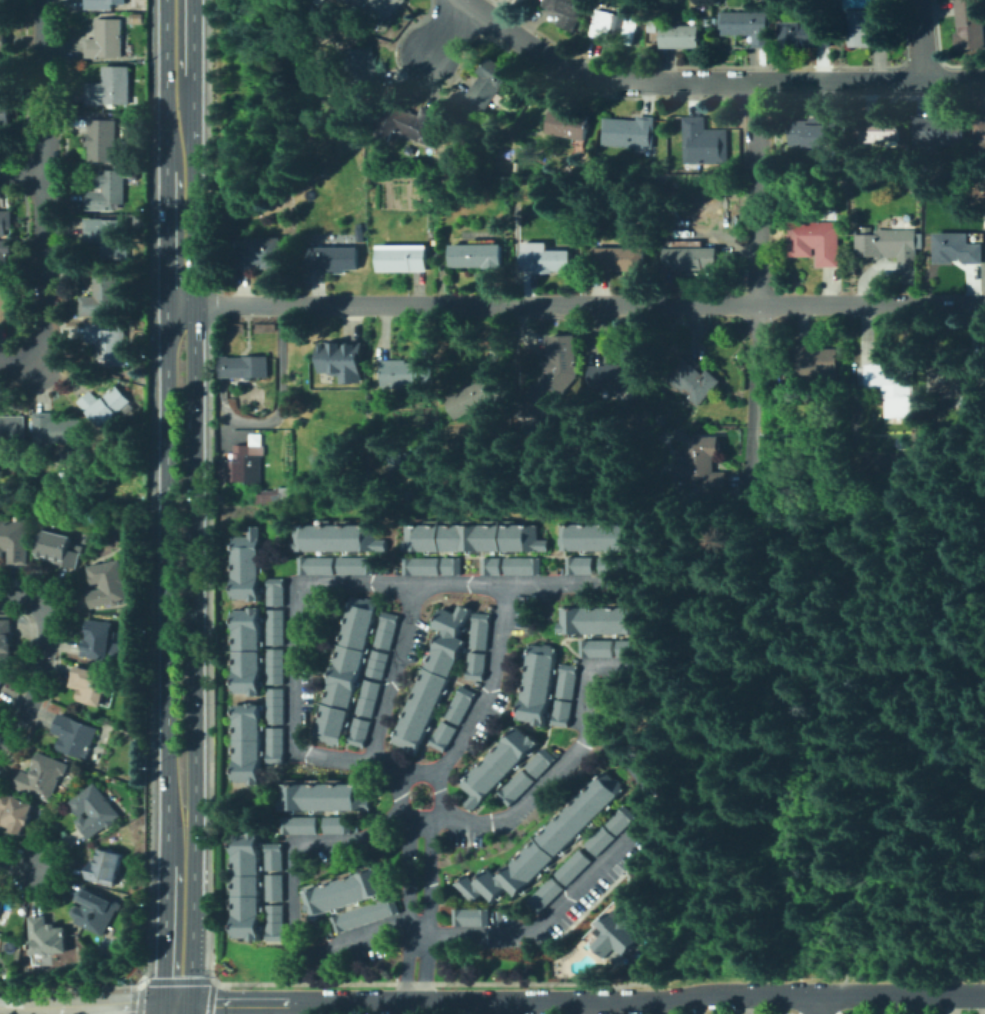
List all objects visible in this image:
building: (320, 0)
building: (8, 4)
building: (103, 4)
building: (380, 8)
building: (566, 11)
building: (322, 12)
building: (137, 18)
building: (970, 24)
building: (748, 26)
road: (444, 27)
building: (614, 27)
building: (870, 28)
building: (803, 35)
building: (680, 36)
building: (106, 39)
road: (919, 40)
building: (4, 41)
building: (3, 66)
building: (364, 69)
road: (713, 82)
building: (488, 84)
building: (111, 87)
building: (2, 113)
building: (408, 123)
building: (569, 125)
road: (757, 126)
building: (882, 130)
building: (629, 132)
building: (814, 132)
building: (939, 132)
building: (980, 135)
building: (103, 141)
building: (704, 143)
road: (180, 153)
building: (508, 154)
building: (377, 156)
building: (666, 159)
building: (672, 164)
building: (519, 167)
road: (22, 173)
road: (44, 179)
building: (107, 190)
building: (525, 192)
building: (853, 217)
building: (6, 222)
building: (109, 235)
building: (361, 235)
building: (816, 241)
building: (892, 248)
building: (958, 249)
building: (5, 252)
building: (257, 253)
building: (479, 256)
building: (403, 258)
building: (621, 258)
building: (697, 258)
building: (334, 259)
building: (548, 261)
building: (13, 270)
building: (103, 295)
building: (7, 305)
road: (582, 305)
road: (759, 331)
building: (111, 343)
building: (339, 360)
road: (21, 361)
building: (818, 365)
building: (245, 367)
building: (623, 373)
building: (403, 374)
building: (560, 375)
building: (328, 379)
building: (695, 380)
building: (888, 380)
building: (959, 381)
road: (277, 394)
building: (479, 398)
building: (943, 402)
building: (105, 405)
building: (826, 424)
building: (55, 431)
building: (13, 432)
building: (283, 445)
building: (404, 456)
building: (395, 461)
building: (243, 465)
building: (703, 468)
building: (408, 493)
building: (267, 497)
road: (762, 506)
building: (134, 524)
building: (596, 538)
building: (336, 539)
building: (473, 539)
building: (15, 541)
building: (59, 549)
road: (168, 565)
road: (195, 566)
building: (248, 566)
building: (316, 566)
building: (452, 566)
building: (522, 566)
building: (581, 566)
building: (611, 566)
building: (355, 567)
building: (421, 567)
building: (491, 567)
building: (108, 585)
building: (275, 593)
road: (22, 597)
building: (602, 621)
building: (447, 622)
building: (460, 622)
building: (276, 628)
building: (386, 631)
road: (499, 631)
building: (481, 632)
road: (293, 636)
building: (6, 641)
building: (101, 641)
building: (598, 649)
building: (633, 649)
building: (247, 652)
road: (836, 661)
building: (378, 665)
building: (276, 667)
building: (477, 667)
building: (347, 670)
road: (390, 677)
building: (2, 681)
road: (38, 681)
building: (568, 682)
building: (539, 684)
building: (91, 685)
building: (429, 693)
building: (369, 699)
road: (688, 704)
building: (460, 706)
building: (276, 707)
building: (562, 713)
building: (360, 733)
building: (75, 736)
building: (443, 737)
building: (332, 742)
building: (247, 744)
building: (276, 746)
road: (566, 761)
building: (541, 762)
building: (499, 766)
building: (44, 776)
building: (516, 787)
building: (327, 797)
building: (95, 810)
building: (16, 812)
building: (622, 820)
building: (302, 825)
building: (339, 825)
building: (601, 840)
building: (547, 843)
building: (276, 856)
road: (18, 865)
building: (105, 867)
building: (574, 867)
road: (410, 881)
road: (429, 886)
building: (247, 887)
building: (275, 888)
building: (347, 892)
building: (546, 895)
building: (1, 901)
building: (95, 910)
building: (366, 916)
building: (471, 917)
road: (178, 919)
building: (274, 923)
building: (620, 930)
road: (424, 932)
building: (48, 937)
road: (840, 958)
road: (984, 976)
road: (824, 997)
road: (420, 1000)
traffic signals: (177, 1004)
road: (817, 1005)
road: (666, 1006)
road: (88, 1008)

